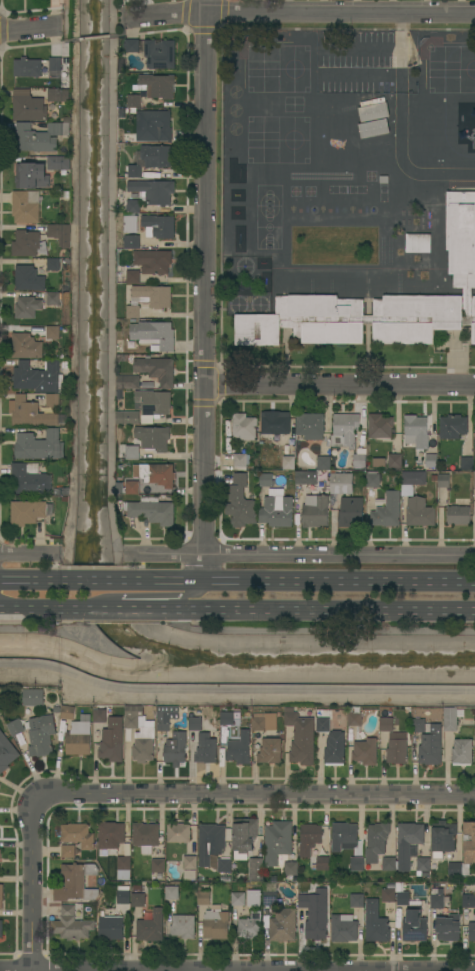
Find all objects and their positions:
road: (298, 14)
road: (30, 29)
road: (115, 29)
road: (70, 34)
road: (93, 39)
building: (132, 46)
building: (160, 54)
building: (55, 64)
building: (27, 68)
building: (373, 79)
building: (159, 85)
building: (58, 95)
building: (373, 96)
building: (134, 101)
building: (28, 107)
building: (374, 112)
building: (153, 126)
building: (374, 129)
building: (41, 136)
building: (373, 145)
building: (156, 156)
building: (58, 163)
building: (135, 171)
building: (31, 176)
building: (384, 180)
building: (153, 191)
building: (25, 207)
building: (131, 215)
building: (160, 226)
building: (60, 234)
building: (131, 241)
building: (418, 243)
building: (28, 244)
building: (153, 261)
building: (53, 265)
building: (133, 276)
building: (28, 279)
road: (202, 288)
building: (153, 296)
building: (53, 299)
building: (379, 302)
building: (27, 307)
building: (133, 312)
building: (53, 333)
building: (154, 335)
building: (26, 346)
building: (157, 370)
building: (39, 376)
road: (338, 381)
building: (128, 382)
building: (53, 400)
building: (153, 404)
building: (31, 413)
building: (128, 418)
building: (275, 426)
building: (310, 426)
building: (452, 426)
building: (244, 427)
building: (380, 427)
building: (474, 427)
building: (344, 430)
building: (416, 432)
building: (154, 438)
building: (40, 446)
building: (132, 452)
building: (360, 453)
building: (240, 461)
building: (394, 462)
building: (431, 462)
building: (288, 463)
building: (323, 463)
building: (379, 463)
building: (467, 463)
building: (158, 475)
building: (306, 478)
building: (29, 479)
building: (372, 479)
building: (266, 480)
building: (410, 481)
building: (443, 481)
building: (474, 481)
building: (341, 483)
building: (132, 487)
building: (370, 495)
building: (242, 502)
building: (277, 509)
building: (151, 511)
building: (315, 511)
building: (387, 511)
building: (29, 512)
building: (351, 513)
building: (419, 513)
building: (458, 515)
road: (29, 556)
road: (296, 556)
road: (30, 577)
road: (93, 577)
road: (300, 578)
road: (170, 597)
road: (32, 608)
road: (97, 609)
road: (302, 610)
building: (32, 698)
building: (474, 711)
building: (68, 713)
building: (99, 716)
building: (166, 717)
building: (227, 718)
building: (355, 719)
building: (450, 719)
building: (322, 721)
building: (264, 722)
building: (195, 724)
building: (386, 724)
building: (418, 726)
building: (16, 727)
building: (140, 734)
building: (41, 736)
building: (79, 737)
building: (300, 737)
building: (112, 740)
building: (431, 746)
building: (397, 748)
building: (175, 749)
building: (206, 749)
building: (240, 749)
building: (335, 749)
building: (270, 751)
building: (365, 752)
building: (462, 752)
building: (6, 753)
road: (256, 794)
building: (178, 833)
building: (78, 835)
building: (111, 835)
building: (244, 835)
building: (344, 836)
building: (145, 837)
building: (309, 839)
building: (443, 839)
building: (210, 842)
building: (376, 842)
building: (408, 843)
building: (280, 847)
building: (68, 851)
building: (0, 853)
building: (465, 853)
building: (190, 863)
building: (323, 863)
building: (123, 864)
building: (357, 864)
building: (389, 864)
building: (423, 864)
building: (158, 866)
building: (224, 866)
building: (256, 869)
building: (190, 876)
building: (76, 883)
road: (31, 884)
building: (171, 893)
building: (388, 895)
building: (1, 896)
building: (123, 897)
building: (203, 898)
building: (253, 898)
building: (270, 898)
building: (238, 899)
building: (138, 900)
building: (304, 901)
building: (357, 901)
building: (468, 901)
building: (437, 902)
building: (411, 919)
building: (375, 922)
building: (216, 924)
building: (71, 925)
building: (283, 925)
building: (250, 926)
building: (151, 927)
building: (183, 927)
building: (111, 928)
building: (448, 928)
building: (1, 929)
building: (343, 929)
building: (315, 930)
building: (472, 932)

